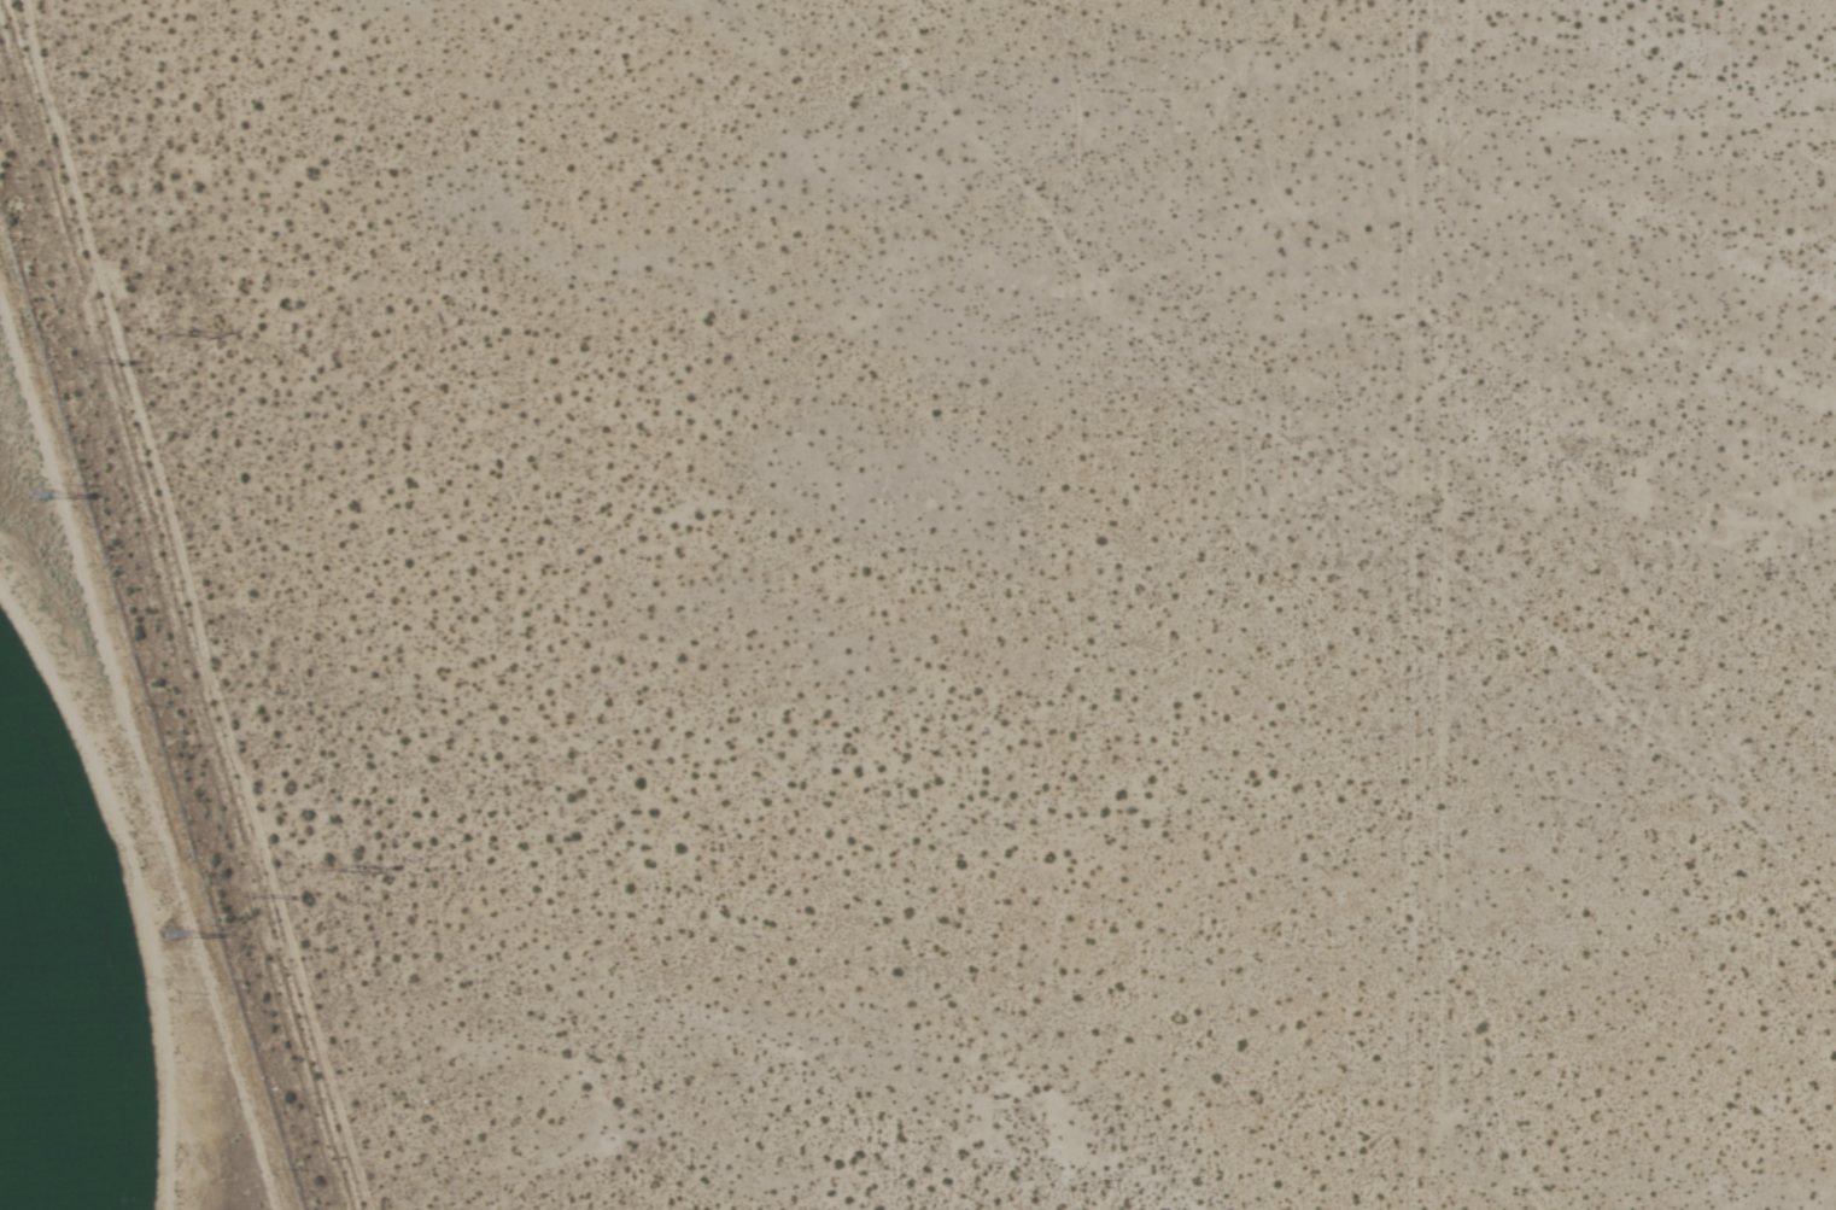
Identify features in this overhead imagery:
power tower: (174, 334)
power tower: (94, 357)
power tower: (36, 503)
power tower: (337, 869)
power tower: (258, 894)
power tower: (168, 943)
crop: (63, 970)

